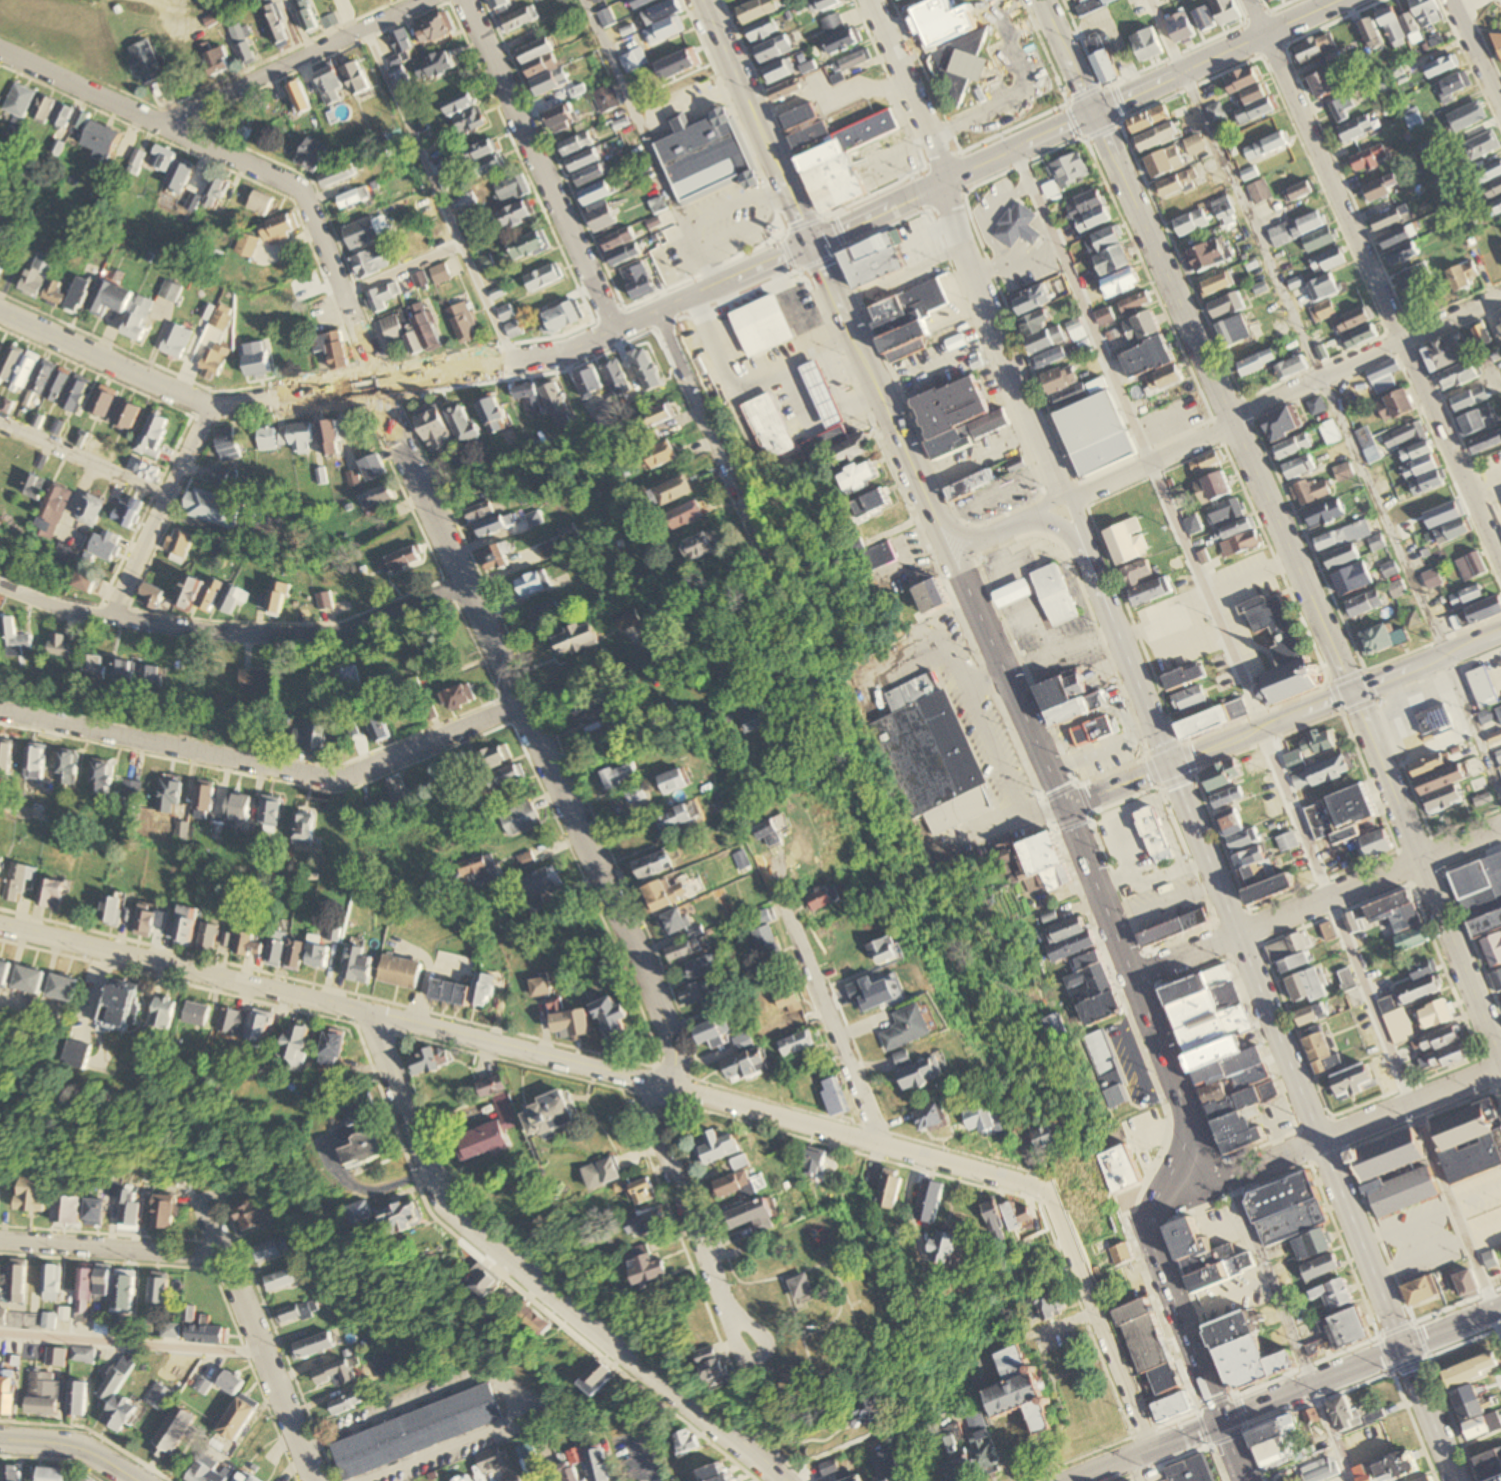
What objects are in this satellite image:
road: (162, 1)
road: (1464, 3)
road: (1265, 5)
road: (1278, 5)
road: (1331, 22)
road: (1028, 25)
road: (1276, 26)
road: (1481, 40)
building: (1496, 41)
road: (1476, 52)
road: (1067, 56)
road: (1213, 56)
road: (294, 61)
road: (1469, 65)
road: (913, 88)
road: (1026, 90)
traffic signals: (1093, 112)
road: (649, 144)
road: (1018, 144)
road: (245, 164)
building: (700, 164)
road: (540, 165)
road: (1324, 170)
road: (428, 180)
road: (877, 212)
road: (1366, 230)
traffic signals: (809, 245)
road: (400, 272)
road: (823, 275)
road: (1451, 317)
road: (1000, 341)
road: (405, 380)
building: (820, 393)
road: (1329, 397)
road: (1235, 420)
road: (714, 423)
building: (758, 425)
road: (1452, 451)
road: (83, 460)
road: (1486, 489)
road: (1044, 506)
road: (159, 511)
road: (1081, 527)
road: (1062, 528)
road: (986, 537)
road: (1304, 583)
road: (233, 632)
building: (1046, 634)
building: (1277, 650)
traffic signals: (1351, 690)
road: (1283, 717)
building: (1432, 717)
building: (1091, 731)
road: (1261, 732)
road: (534, 740)
building: (930, 740)
traffic signals: (1169, 763)
road: (264, 766)
traffic signals: (1066, 804)
building: (1153, 835)
road: (1316, 903)
road: (185, 975)
road: (1133, 983)
road: (1272, 1020)
road: (828, 1030)
road: (1133, 1055)
road: (712, 1101)
road: (1147, 1126)
road: (1335, 1134)
road: (1430, 1213)
road: (689, 1220)
road: (112, 1249)
road: (1437, 1252)
road: (534, 1279)
building: (799, 1287)
park: (820, 1297)
road: (854, 1315)
road: (831, 1322)
road: (1098, 1325)
road: (1291, 1328)
road: (1044, 1330)
road: (256, 1338)
road: (131, 1343)
traffic signals: (1404, 1349)
road: (1359, 1367)
road: (779, 1371)
building: (1018, 1390)
road: (506, 1398)
traffic signals: (1218, 1425)
building: (172, 1429)
building: (416, 1432)
road: (71, 1444)
road: (1148, 1452)
road: (1229, 1453)
road: (1136, 1470)

